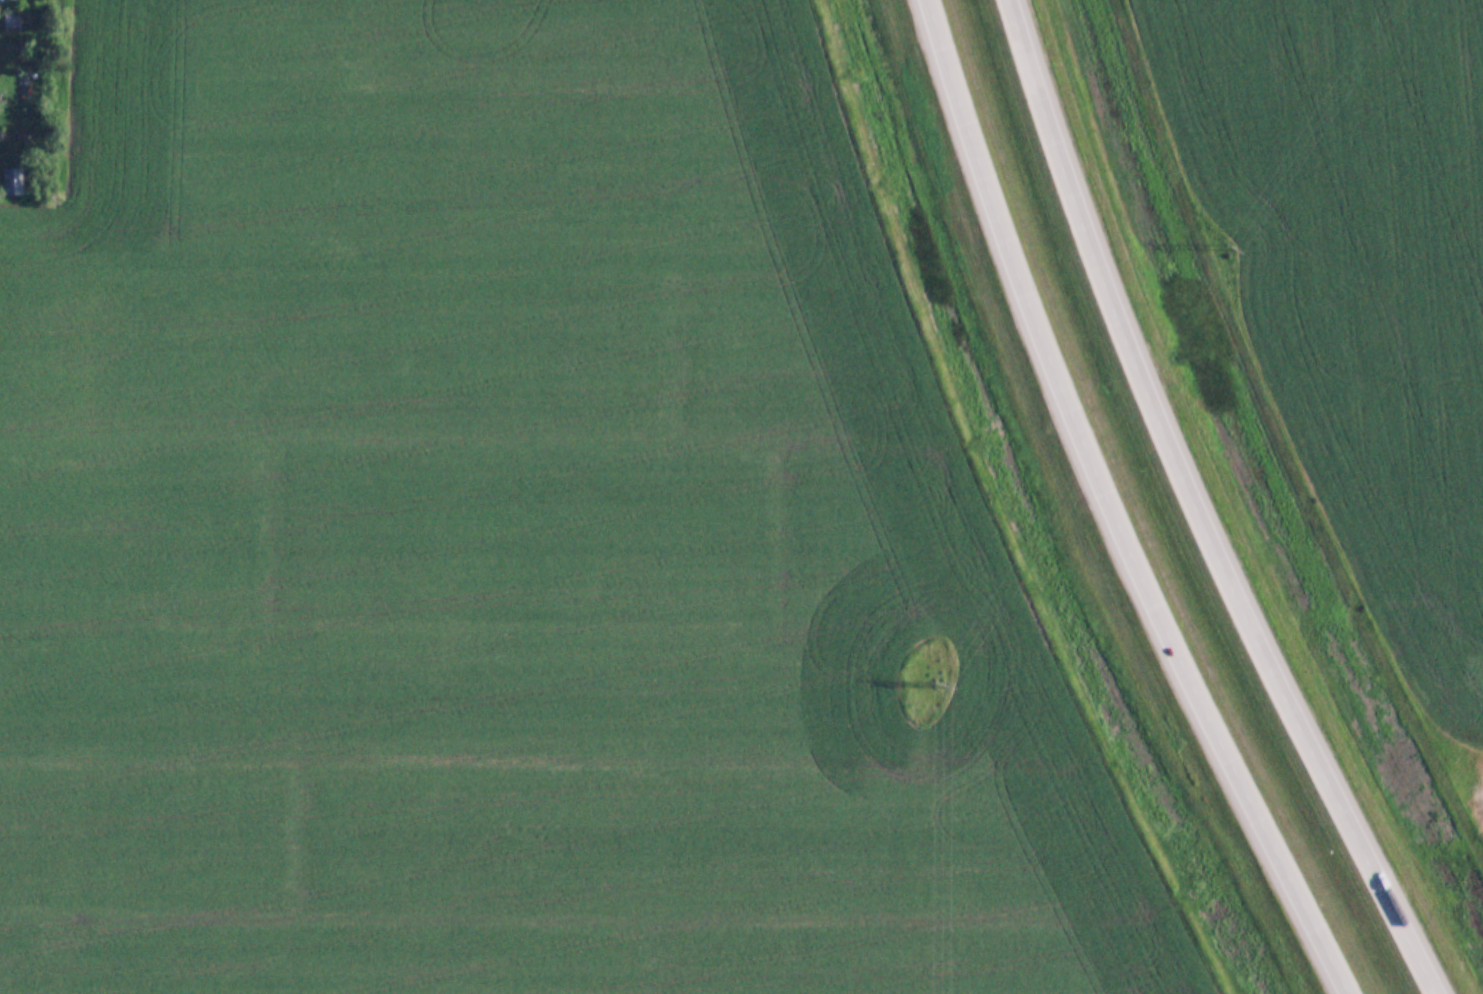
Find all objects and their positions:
building: (8, 18)
power tower: (1222, 247)
road: (1203, 506)
road: (1116, 508)
power tower: (924, 684)

